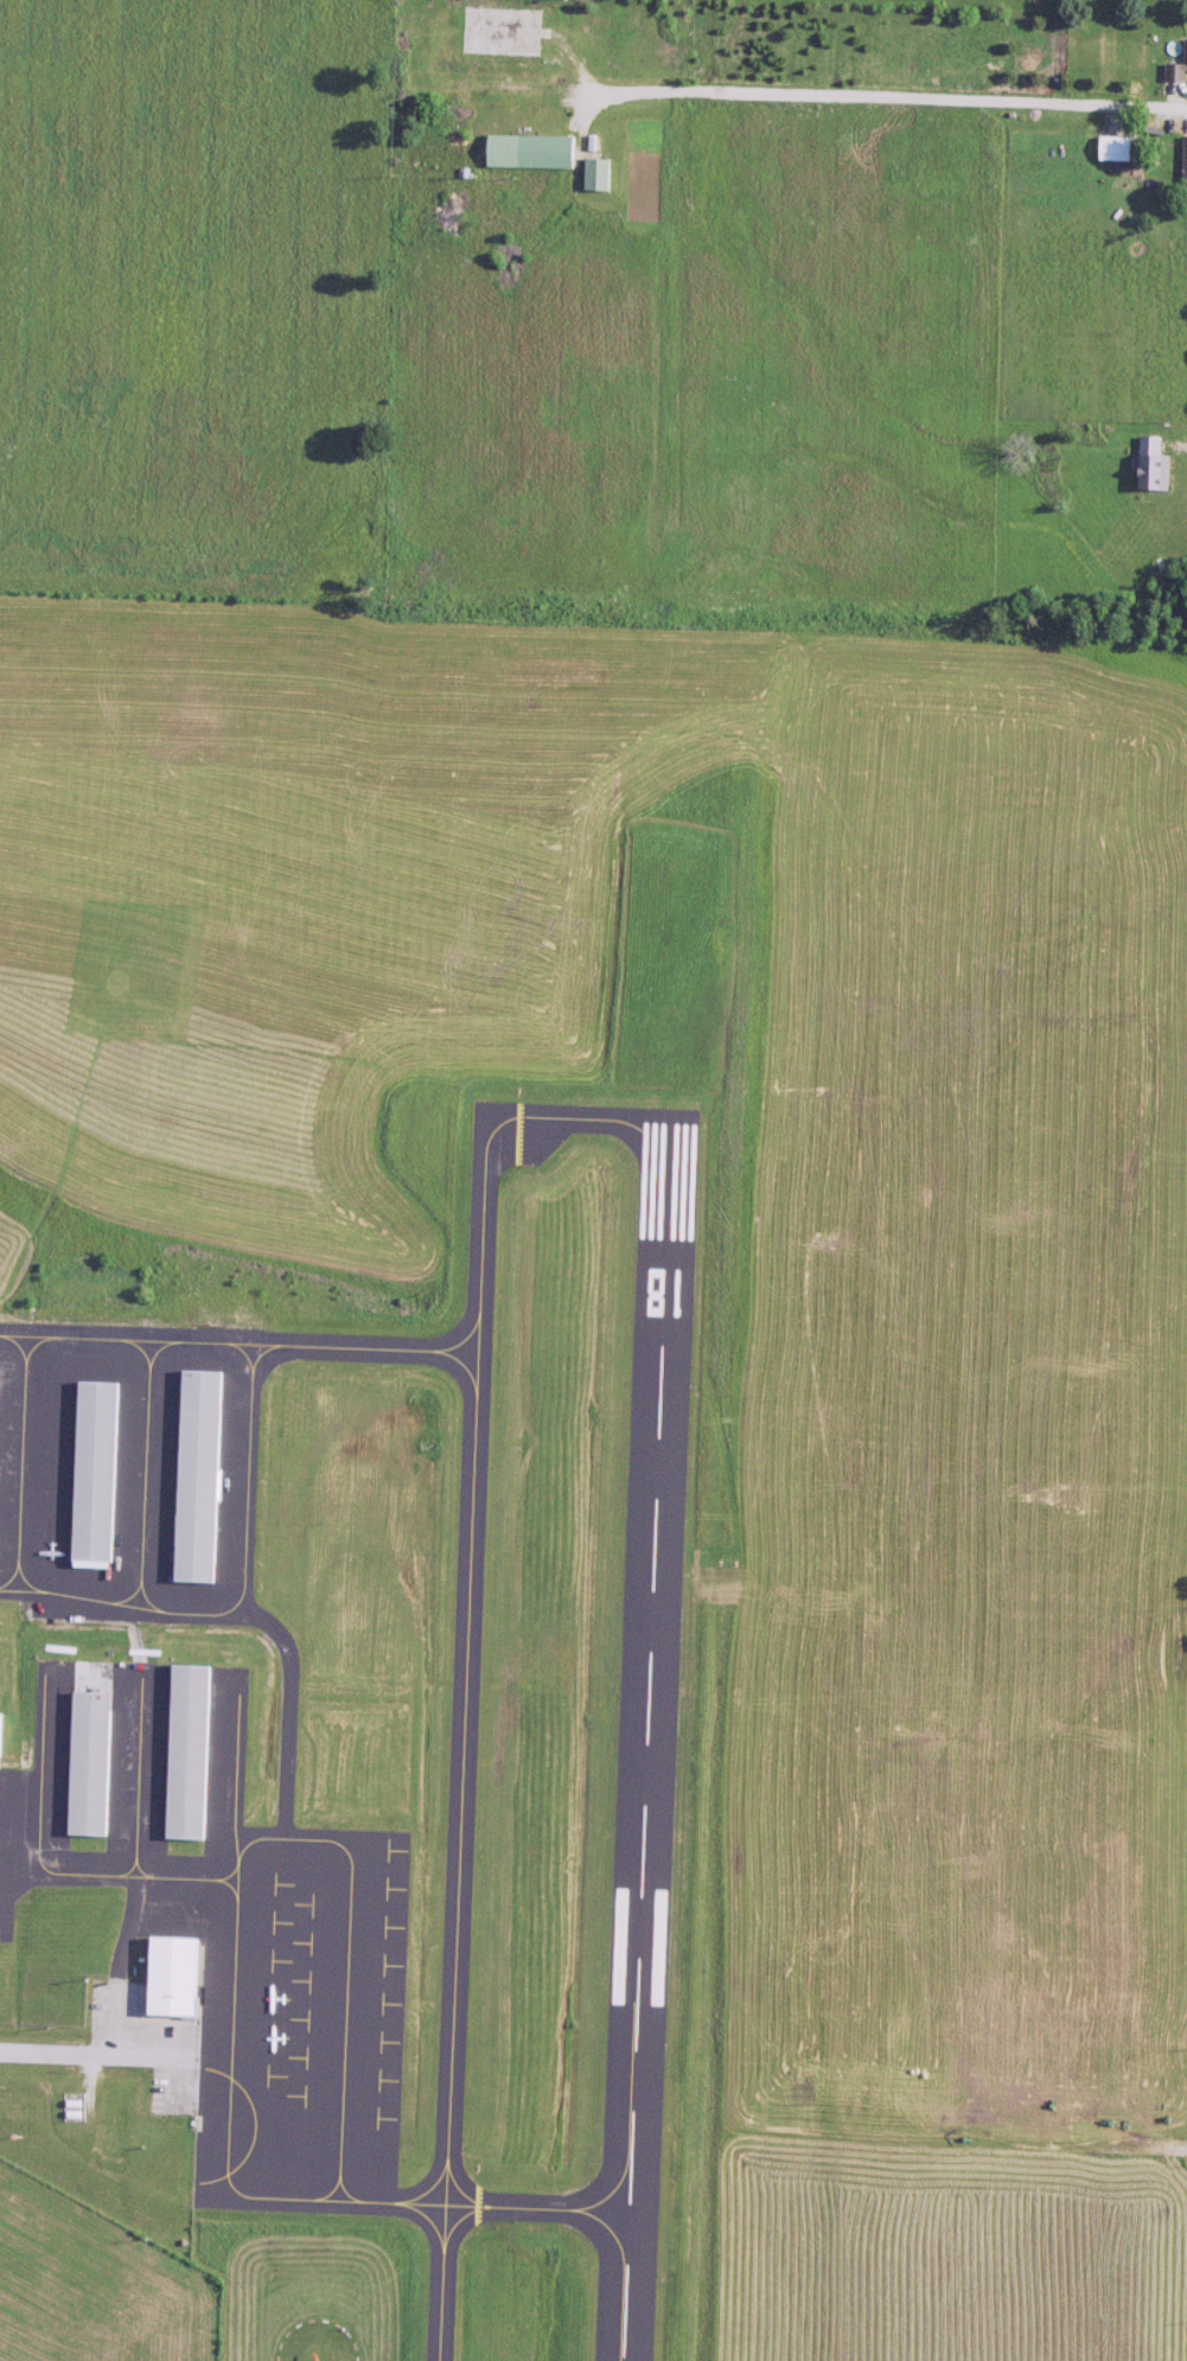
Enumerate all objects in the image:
building: (508, 30)
building: (1175, 68)
building: (508, 71)
road: (879, 95)
building: (535, 149)
building: (1182, 161)
building: (602, 173)
building: (1149, 464)
airport taxiway: (238, 1338)
building: (102, 1472)
building: (205, 1476)
airport taxiway: (466, 1653)
building: (6, 1727)
airport runway: (646, 1735)
building: (96, 1748)
building: (194, 1751)
airport apron: (229, 1923)
building: (178, 1977)
road: (84, 2054)
airport taxiway: (512, 2204)

